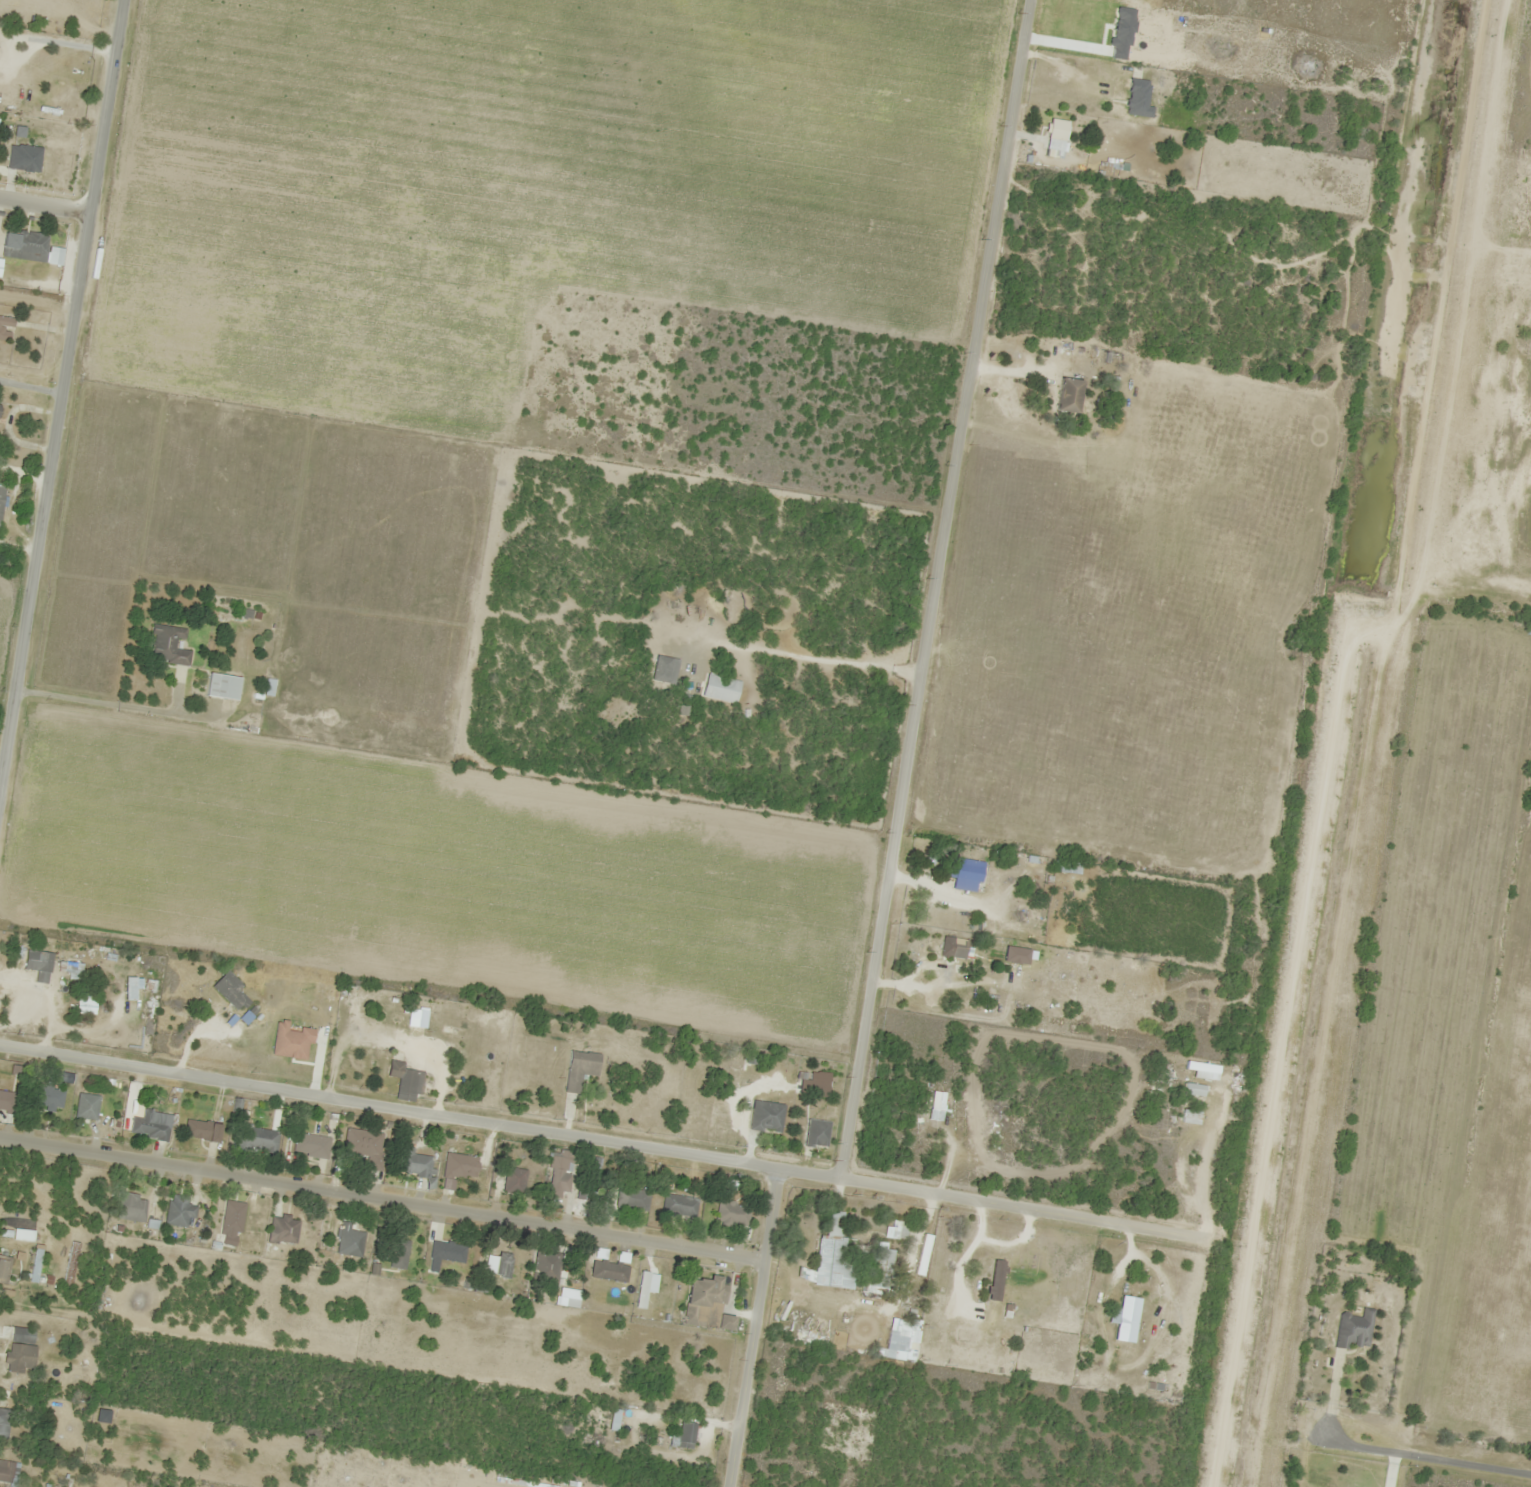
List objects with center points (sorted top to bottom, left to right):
building: (1136, 98)
building: (1054, 135)
building: (25, 158)
road: (45, 201)
building: (26, 245)
building: (1, 265)
building: (6, 328)
road: (61, 394)
building: (1065, 395)
building: (0, 405)
building: (2, 498)
road: (933, 588)
building: (166, 645)
building: (220, 687)
building: (267, 687)
railway: (1390, 743)
road: (0, 782)
building: (1064, 866)
building: (962, 873)
building: (951, 948)
building: (36, 961)
building: (126, 989)
building: (229, 991)
building: (83, 1002)
building: (578, 1069)
building: (403, 1080)
building: (816, 1088)
building: (1191, 1094)
building: (50, 1098)
building: (6, 1099)
building: (88, 1106)
building: (975, 1111)
building: (764, 1116)
building: (154, 1125)
building: (200, 1130)
building: (815, 1133)
building: (256, 1139)
road: (605, 1139)
building: (310, 1145)
building: (363, 1145)
building: (414, 1163)
building: (457, 1165)
building: (557, 1174)
building: (512, 1180)
building: (588, 1188)
road: (383, 1196)
building: (630, 1199)
building: (678, 1205)
building: (131, 1207)
building: (178, 1213)
building: (730, 1214)
building: (230, 1222)
building: (282, 1229)
building: (24, 1235)
building: (347, 1240)
building: (396, 1253)
building: (443, 1253)
building: (828, 1257)
building: (547, 1262)
building: (495, 1263)
building: (4, 1265)
building: (37, 1265)
building: (876, 1269)
building: (607, 1270)
building: (994, 1279)
building: (704, 1303)
building: (1122, 1315)
road: (756, 1327)
building: (1353, 1330)
building: (898, 1344)
building: (22, 1350)
building: (4, 1422)
road: (1433, 1452)
building: (8, 1471)

